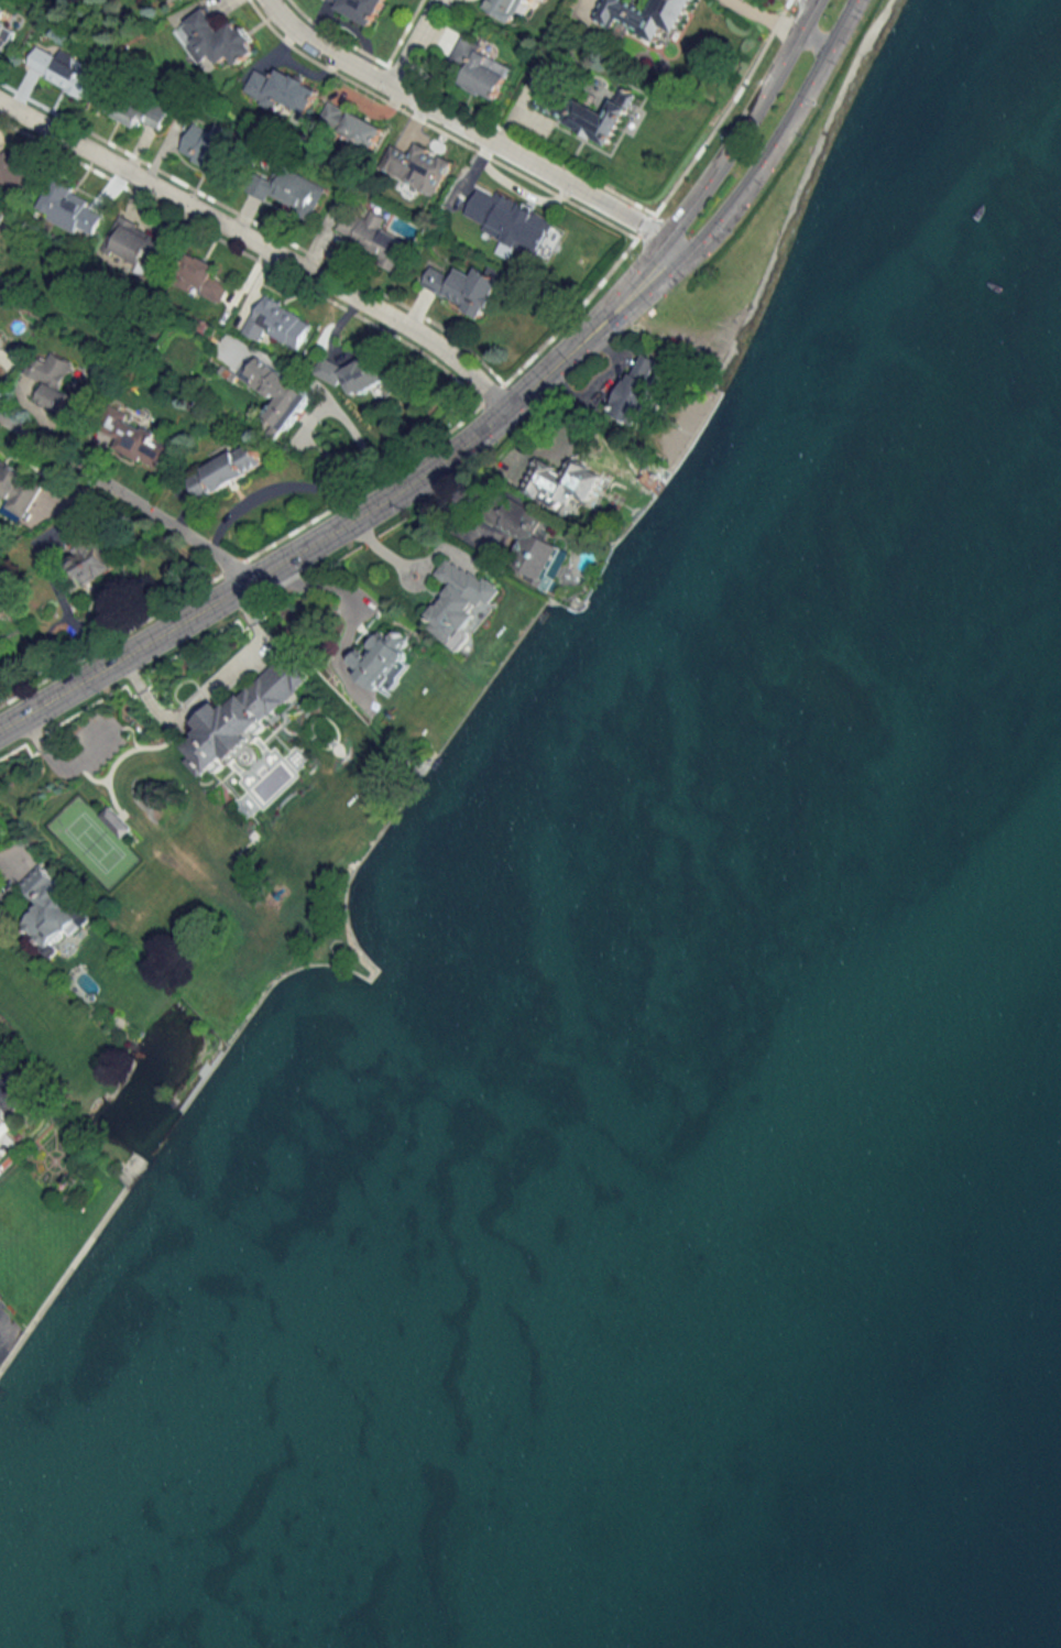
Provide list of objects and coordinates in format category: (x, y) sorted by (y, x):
building: (359, 8)
building: (504, 8)
building: (644, 15)
road: (764, 18)
building: (4, 31)
road: (816, 36)
building: (216, 39)
road: (412, 44)
building: (481, 70)
building: (67, 73)
building: (282, 89)
building: (135, 110)
building: (586, 112)
building: (351, 124)
road: (743, 124)
road: (468, 130)
road: (781, 134)
building: (206, 144)
building: (417, 166)
building: (12, 170)
building: (291, 189)
building: (69, 208)
building: (508, 222)
building: (371, 234)
building: (135, 243)
road: (258, 244)
building: (204, 279)
building: (466, 287)
building: (277, 323)
building: (352, 373)
building: (51, 379)
road: (601, 388)
building: (636, 388)
building: (278, 392)
building: (139, 441)
building: (227, 470)
building: (560, 482)
building: (17, 492)
road: (125, 498)
road: (359, 510)
road: (376, 547)
building: (90, 559)
road: (343, 592)
building: (458, 600)
building: (379, 658)
road: (204, 687)
building: (243, 714)
road: (10, 853)
building: (51, 909)
building: (4, 1122)
building: (1, 1148)

